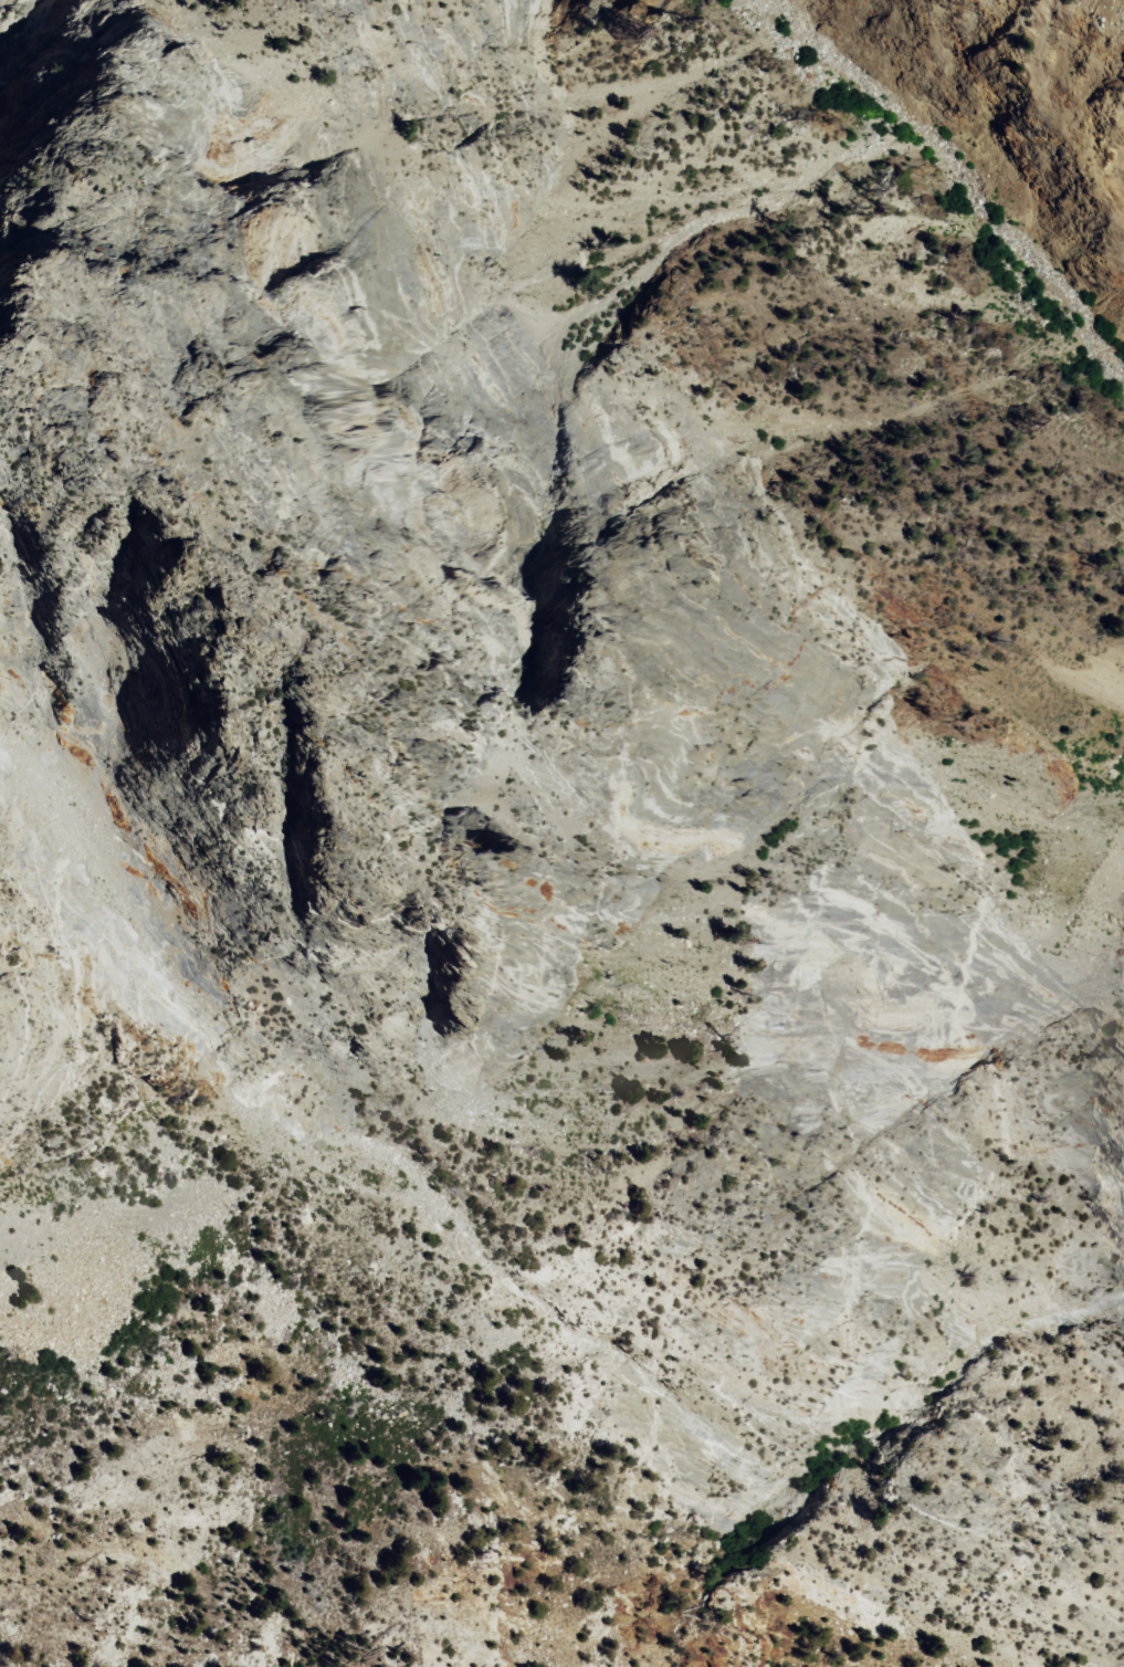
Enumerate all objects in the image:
aerialway pylon: (627, 33)
aerialway pylon: (1018, 421)

